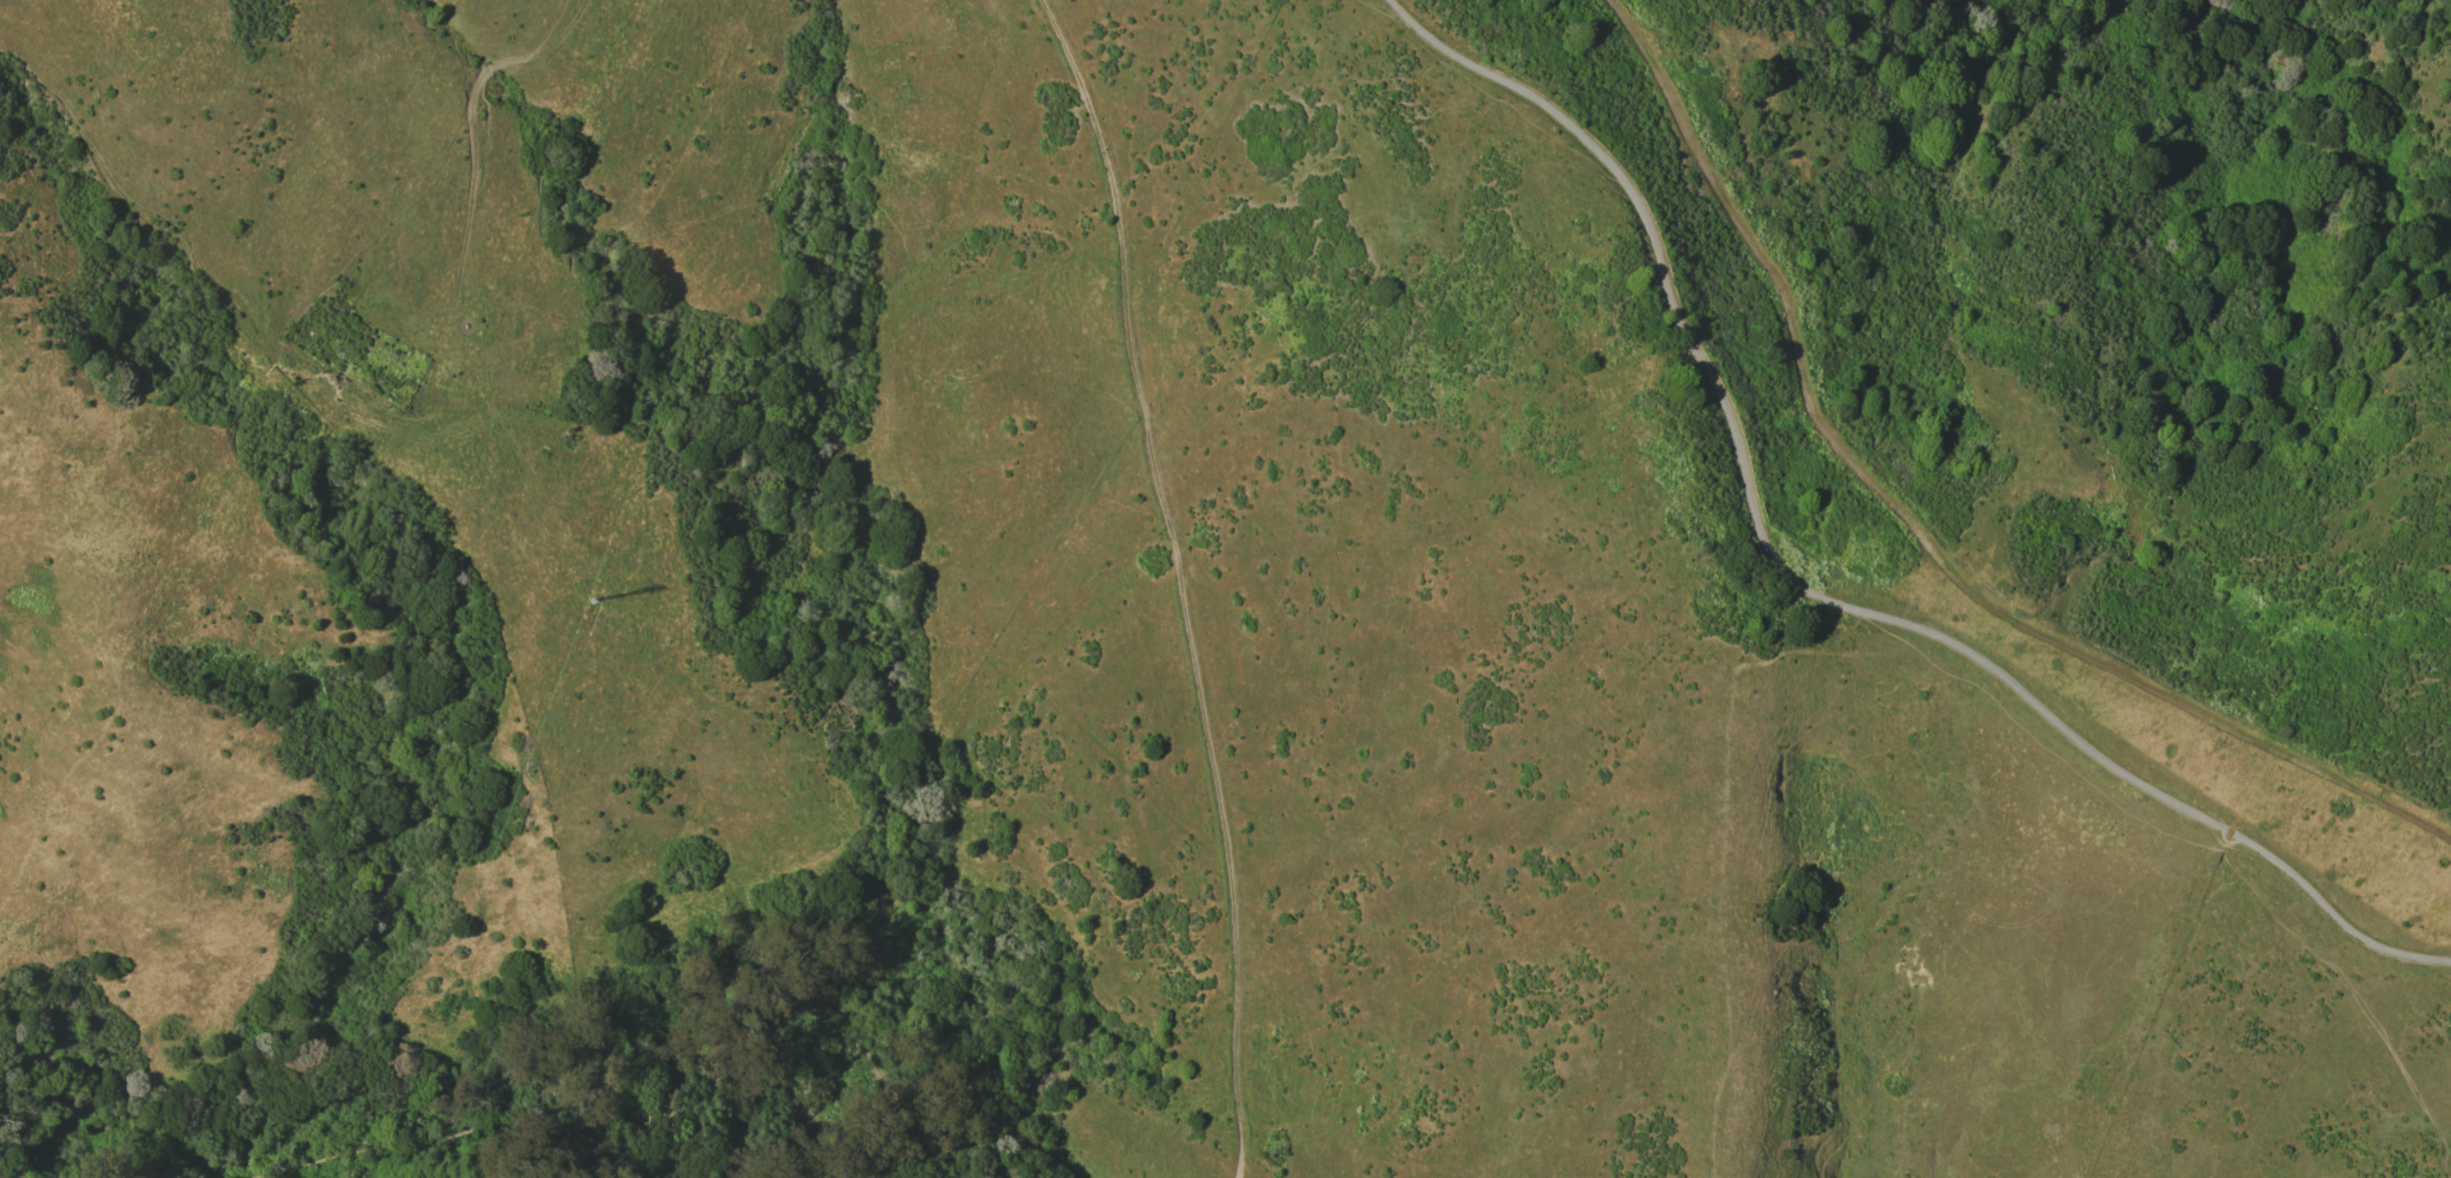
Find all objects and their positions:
road: (1916, 534)
road: (1180, 579)
road: (1801, 594)
power tower: (589, 617)
road: (2351, 990)
road: (577, 1096)

